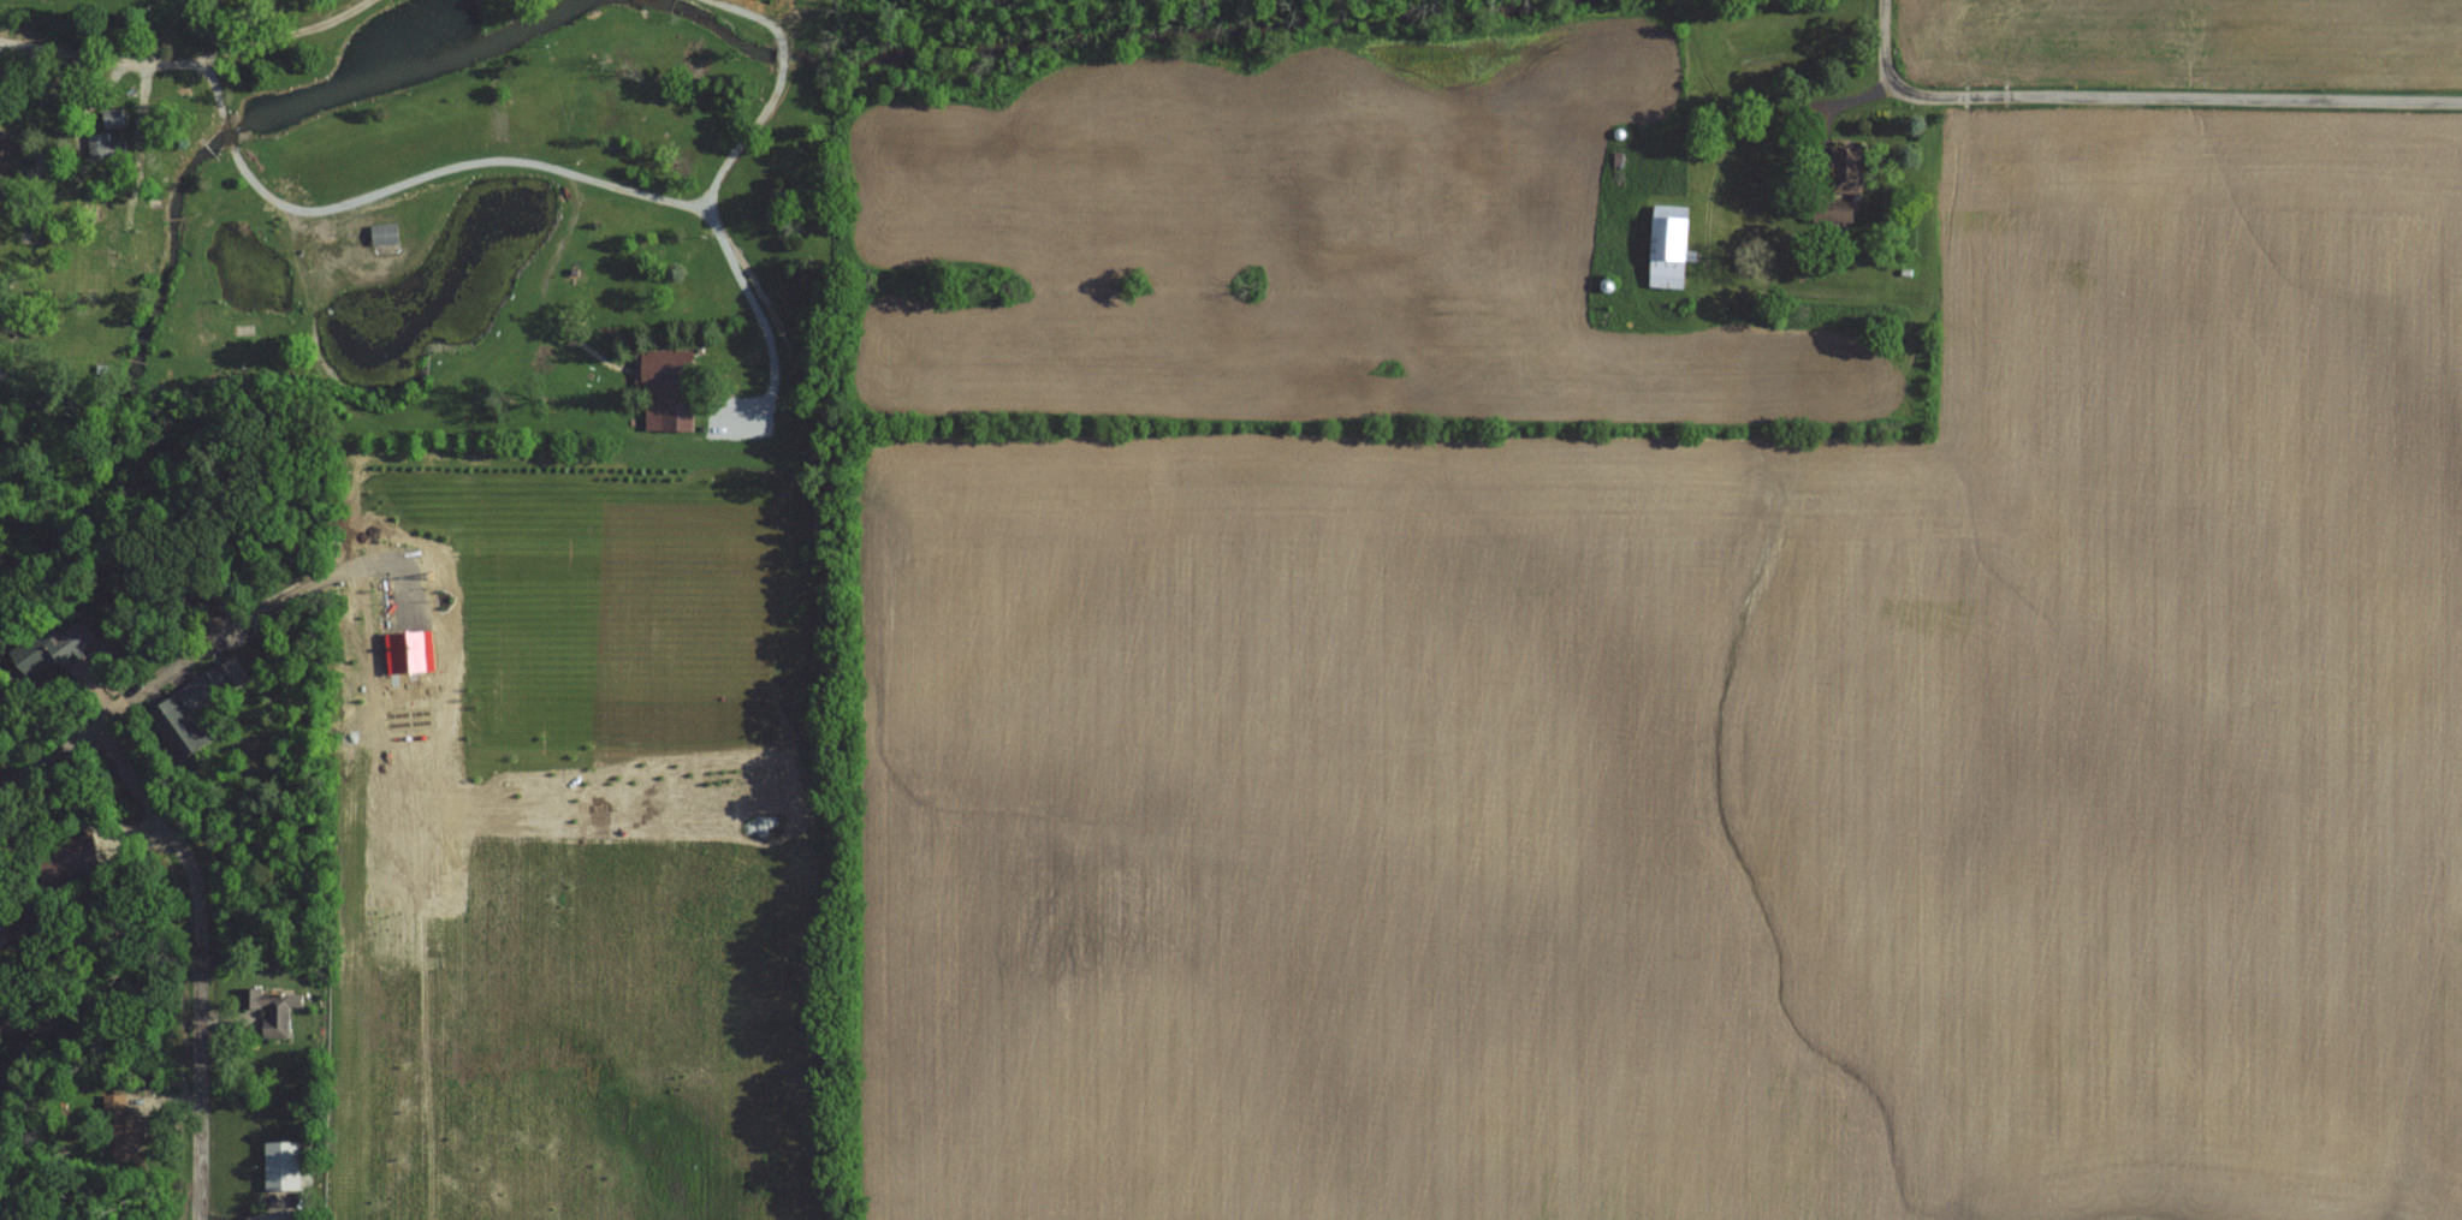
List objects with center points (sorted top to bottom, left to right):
road: (340, 6)
road: (799, 19)
road: (54, 29)
road: (259, 42)
road: (1886, 42)
road: (63, 53)
building: (695, 56)
road: (51, 87)
road: (144, 87)
road: (777, 91)
road: (2176, 99)
building: (113, 118)
road: (77, 143)
building: (105, 147)
building: (1849, 168)
road: (627, 190)
building: (29, 194)
building: (1834, 212)
road: (569, 228)
building: (386, 234)
road: (119, 236)
building: (1672, 248)
road: (99, 346)
road: (184, 347)
road: (233, 347)
road: (137, 359)
building: (669, 391)
building: (85, 643)
building: (194, 709)
road: (113, 712)
building: (8, 916)
road: (200, 958)
building: (271, 1011)
building: (7, 1023)

